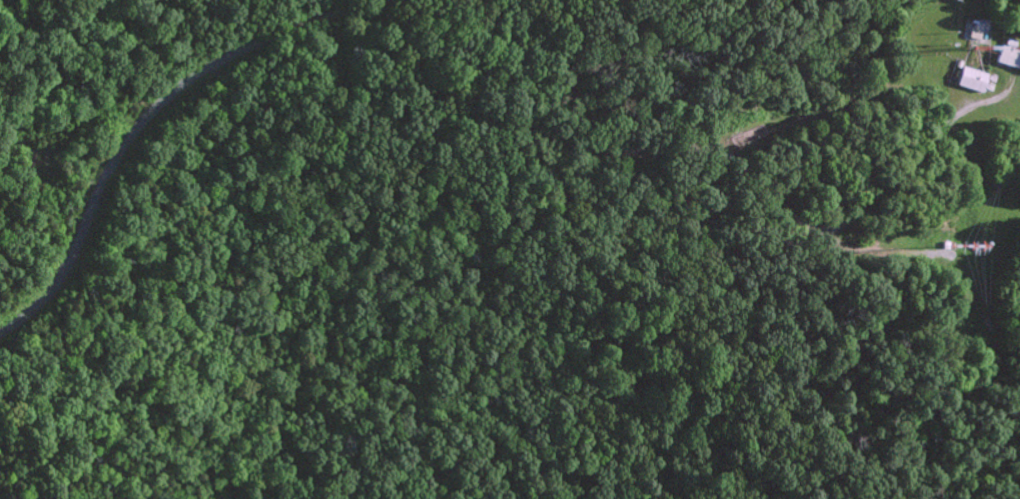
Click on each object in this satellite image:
building: (1010, 57)
building: (975, 80)

